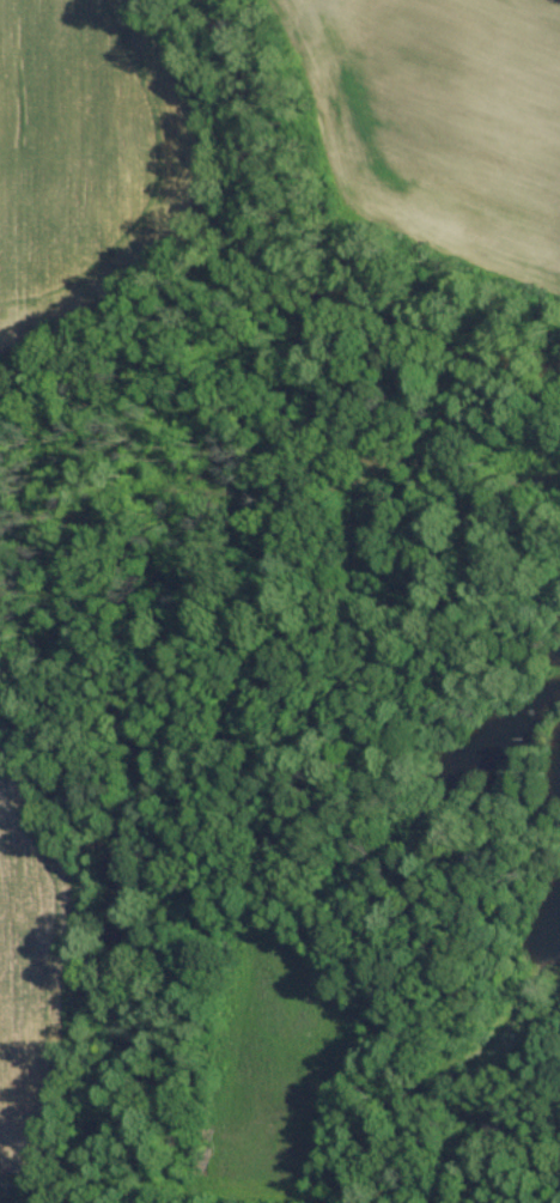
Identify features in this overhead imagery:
road: (127, 1193)

